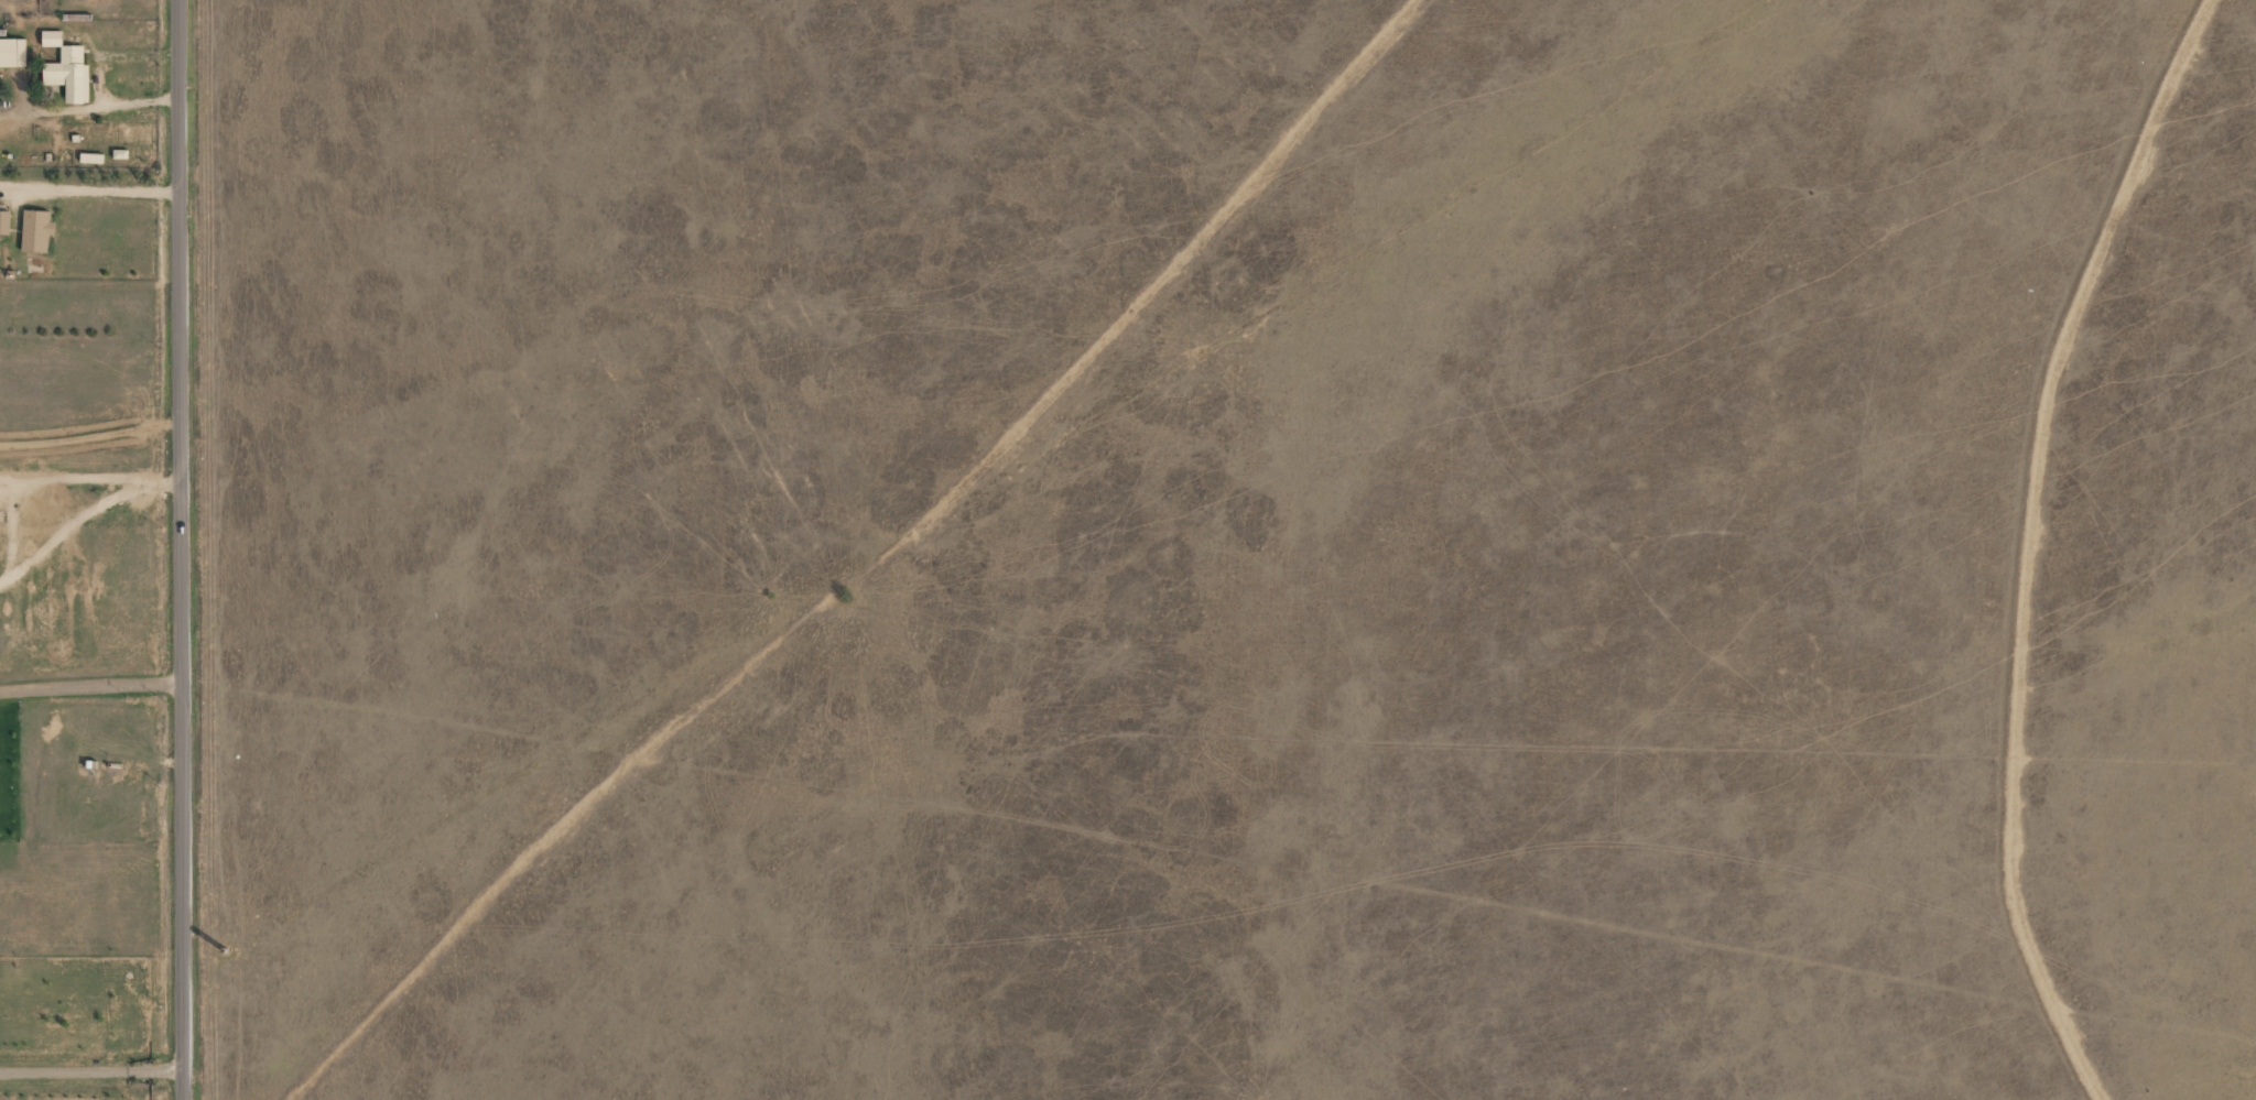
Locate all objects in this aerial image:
building: (52, 37)
building: (12, 52)
building: (69, 74)
building: (4, 222)
building: (35, 231)
road: (90, 489)
road: (182, 549)
road: (90, 662)

